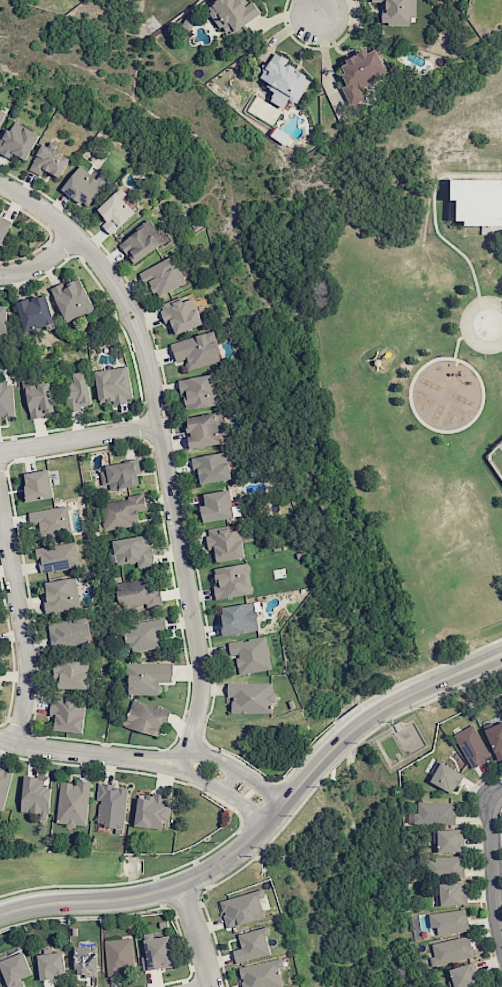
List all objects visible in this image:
road: (314, 7)
building: (398, 11)
building: (233, 13)
building: (188, 23)
road: (324, 61)
building: (361, 73)
building: (284, 81)
building: (17, 141)
building: (49, 161)
building: (84, 185)
building: (477, 200)
building: (115, 212)
building: (4, 227)
building: (141, 242)
road: (41, 262)
building: (164, 276)
building: (72, 300)
building: (35, 313)
building: (181, 313)
building: (3, 320)
building: (196, 350)
building: (113, 385)
building: (198, 391)
building: (77, 392)
building: (38, 397)
building: (6, 399)
building: (204, 430)
road: (79, 438)
road: (163, 448)
building: (211, 467)
building: (120, 475)
building: (38, 485)
building: (217, 506)
building: (121, 512)
building: (51, 521)
building: (225, 543)
building: (133, 551)
building: (57, 557)
building: (232, 581)
building: (134, 594)
building: (60, 595)
building: (238, 619)
road: (20, 623)
building: (70, 632)
building: (144, 635)
building: (250, 654)
building: (72, 674)
building: (147, 677)
building: (251, 697)
building: (67, 715)
building: (146, 718)
building: (495, 739)
building: (472, 746)
road: (72, 751)
road: (192, 752)
road: (185, 773)
building: (446, 777)
road: (229, 779)
building: (4, 785)
road: (261, 786)
building: (35, 795)
road: (496, 796)
building: (73, 803)
building: (111, 805)
road: (243, 807)
building: (151, 810)
building: (433, 813)
road: (267, 822)
building: (449, 840)
building: (442, 866)
road: (492, 875)
crop: (351, 881)
building: (451, 894)
building: (242, 908)
building: (449, 921)
road: (198, 935)
building: (252, 945)
building: (451, 950)
building: (157, 953)
building: (118, 956)
building: (85, 961)
building: (51, 965)
building: (15, 969)
building: (261, 974)
building: (463, 976)

